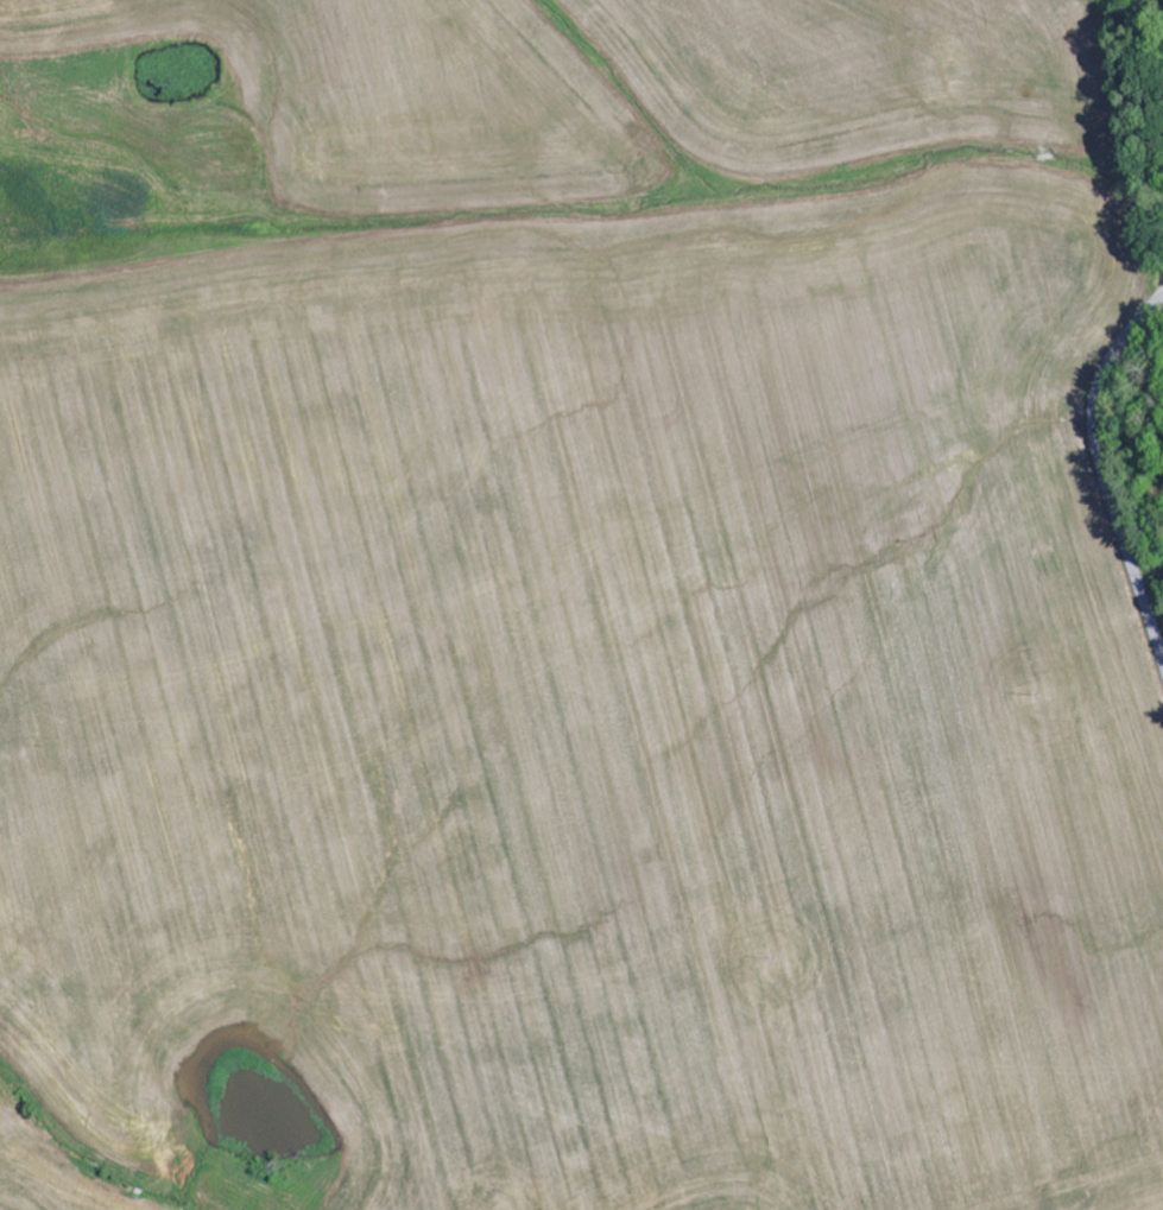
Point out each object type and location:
road: (1102, 470)

